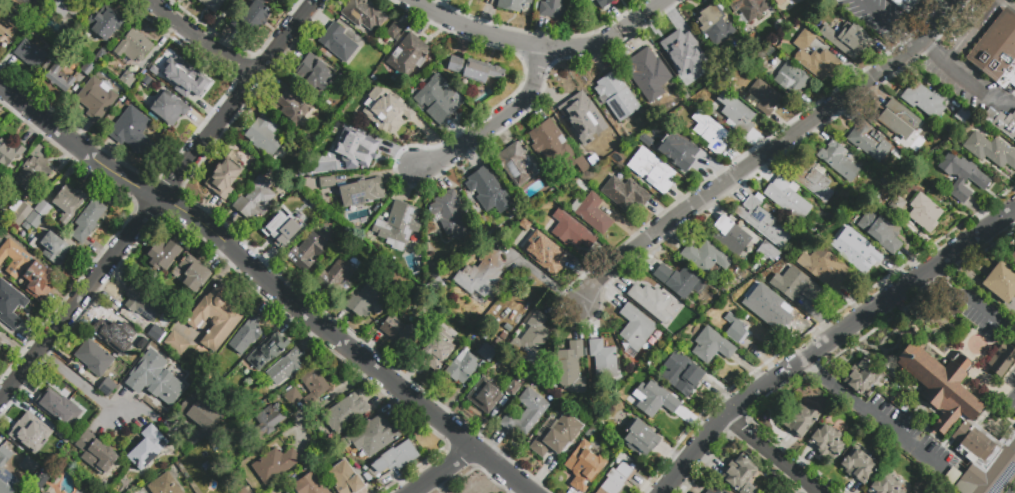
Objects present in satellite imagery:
building: (478, 0)
building: (778, 1)
road: (949, 2)
building: (603, 3)
building: (212, 4)
building: (905, 4)
road: (1009, 4)
building: (513, 5)
building: (15, 7)
building: (67, 9)
building: (552, 10)
building: (748, 10)
building: (364, 14)
building: (838, 15)
road: (880, 17)
road: (914, 17)
building: (252, 19)
building: (713, 24)
building: (105, 26)
building: (8, 29)
building: (394, 30)
road: (973, 33)
building: (33, 34)
road: (202, 39)
building: (847, 39)
road: (908, 40)
building: (337, 43)
road: (539, 46)
building: (680, 46)
building: (133, 48)
building: (997, 51)
road: (931, 54)
building: (31, 55)
building: (408, 55)
building: (814, 57)
building: (157, 65)
building: (87, 69)
building: (475, 69)
building: (647, 70)
building: (314, 74)
building: (59, 77)
building: (127, 79)
building: (146, 80)
building: (793, 80)
building: (189, 83)
road: (969, 84)
building: (617, 96)
building: (764, 97)
building: (97, 98)
building: (436, 100)
building: (923, 100)
road: (1003, 100)
building: (291, 107)
building: (169, 110)
building: (387, 113)
building: (735, 114)
building: (963, 115)
building: (581, 117)
building: (898, 120)
road: (494, 122)
building: (1001, 122)
building: (132, 131)
building: (709, 132)
building: (264, 135)
building: (869, 142)
building: (550, 143)
building: (356, 148)
building: (684, 150)
building: (989, 151)
road: (765, 153)
building: (10, 156)
building: (839, 161)
building: (516, 164)
building: (652, 170)
building: (32, 174)
building: (963, 177)
building: (223, 179)
building: (813, 179)
building: (327, 182)
building: (488, 190)
building: (361, 192)
building: (624, 193)
building: (788, 198)
road: (157, 199)
building: (255, 199)
building: (68, 202)
building: (898, 207)
building: (43, 209)
building: (19, 212)
building: (592, 213)
building: (452, 214)
building: (925, 216)
building: (763, 220)
building: (32, 221)
building: (87, 221)
building: (398, 226)
building: (843, 226)
building: (284, 227)
building: (570, 232)
building: (880, 232)
building: (728, 236)
road: (976, 242)
building: (54, 248)
building: (543, 248)
building: (307, 252)
building: (163, 254)
building: (1011, 254)
building: (857, 256)
building: (705, 257)
building: (824, 267)
building: (27, 269)
building: (192, 273)
building: (481, 274)
building: (338, 275)
building: (680, 281)
road: (267, 283)
building: (1001, 284)
building: (796, 286)
building: (436, 287)
road: (974, 298)
building: (758, 299)
building: (366, 300)
building: (651, 302)
building: (142, 303)
building: (10, 306)
building: (215, 318)
building: (450, 327)
building: (392, 329)
building: (635, 329)
building: (734, 329)
building: (111, 334)
building: (157, 335)
building: (246, 336)
building: (531, 338)
building: (142, 341)
building: (176, 343)
building: (712, 346)
building: (1, 347)
building: (268, 350)
building: (487, 352)
building: (436, 353)
building: (94, 358)
building: (603, 359)
building: (1002, 363)
building: (463, 367)
road: (789, 368)
building: (571, 369)
building: (284, 370)
building: (679, 372)
building: (154, 377)
building: (861, 377)
road: (79, 381)
road: (832, 383)
building: (314, 386)
building: (514, 386)
building: (107, 388)
building: (941, 388)
building: (292, 395)
building: (485, 395)
building: (654, 399)
road: (321, 402)
building: (58, 407)
building: (526, 412)
building: (201, 413)
building: (345, 413)
building: (802, 420)
building: (266, 423)
building: (555, 433)
building: (372, 436)
road: (902, 436)
building: (28, 437)
building: (638, 438)
building: (826, 442)
building: (59, 443)
building: (147, 448)
building: (96, 454)
building: (68, 455)
road: (774, 455)
building: (393, 458)
building: (985, 460)
building: (274, 464)
building: (584, 466)
building: (858, 467)
building: (29, 468)
road: (442, 471)
building: (7, 474)
building: (740, 475)
building: (345, 478)
building: (952, 479)
building: (612, 483)
building: (40, 484)
building: (164, 485)
building: (308, 485)
building: (884, 485)
building: (714, 490)
building: (242, 491)
building: (42, 492)
building: (44, 492)
building: (285, 492)

